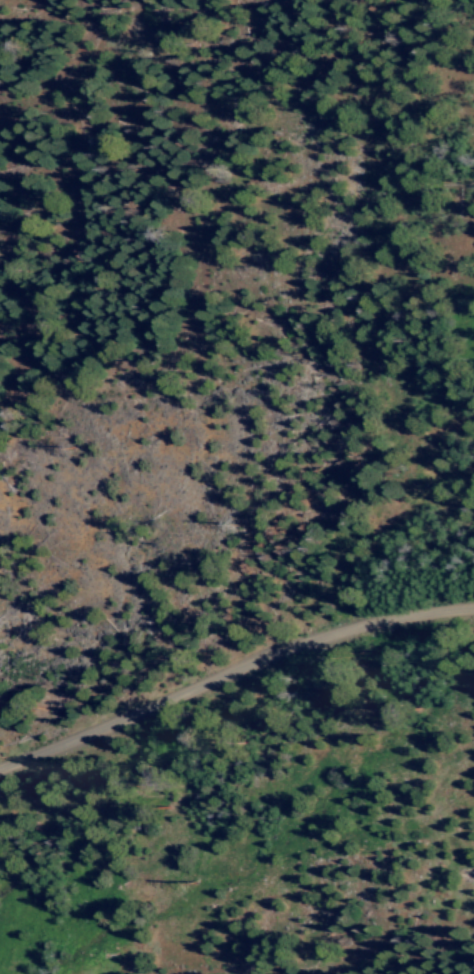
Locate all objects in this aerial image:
road: (231, 668)

